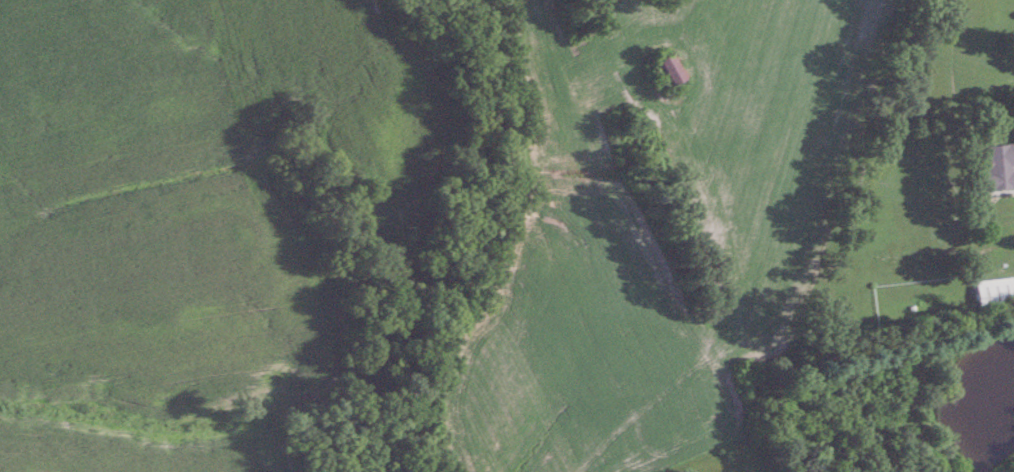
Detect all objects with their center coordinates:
building: (666, 73)
building: (999, 168)
building: (995, 291)

